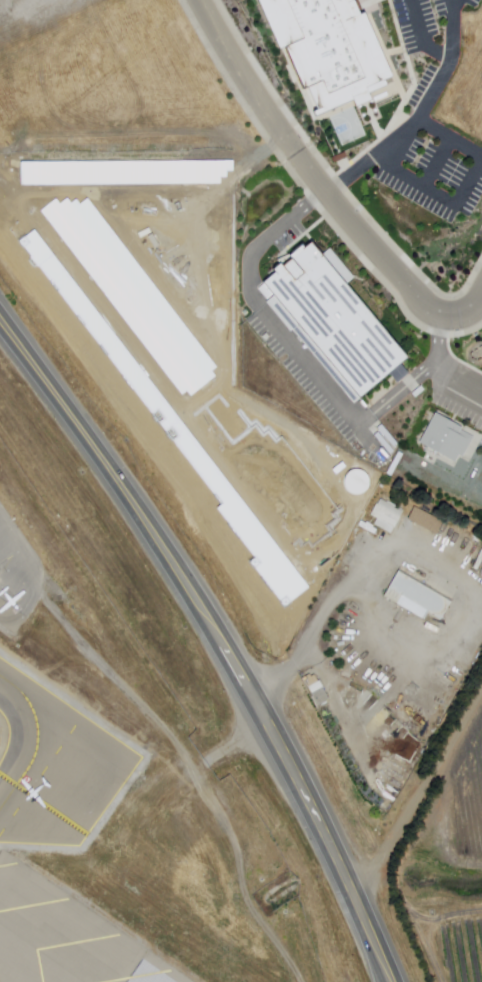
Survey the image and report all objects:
building: (212, 31)
road: (421, 34)
building: (330, 48)
road: (432, 84)
parking lot: (429, 119)
park: (347, 125)
road: (427, 166)
road: (351, 171)
road: (465, 178)
road: (318, 181)
road: (478, 305)
building: (335, 316)
parking lot: (268, 324)
parking lot: (462, 394)
building: (446, 437)
building: (387, 512)
road: (431, 561)
airport apron: (17, 574)
building: (416, 597)
road: (217, 636)
building: (316, 696)
building: (367, 704)
airport taxiway: (35, 740)
road: (232, 749)
road: (439, 768)
airport apron: (83, 774)
road: (196, 775)
airport: (116, 799)

